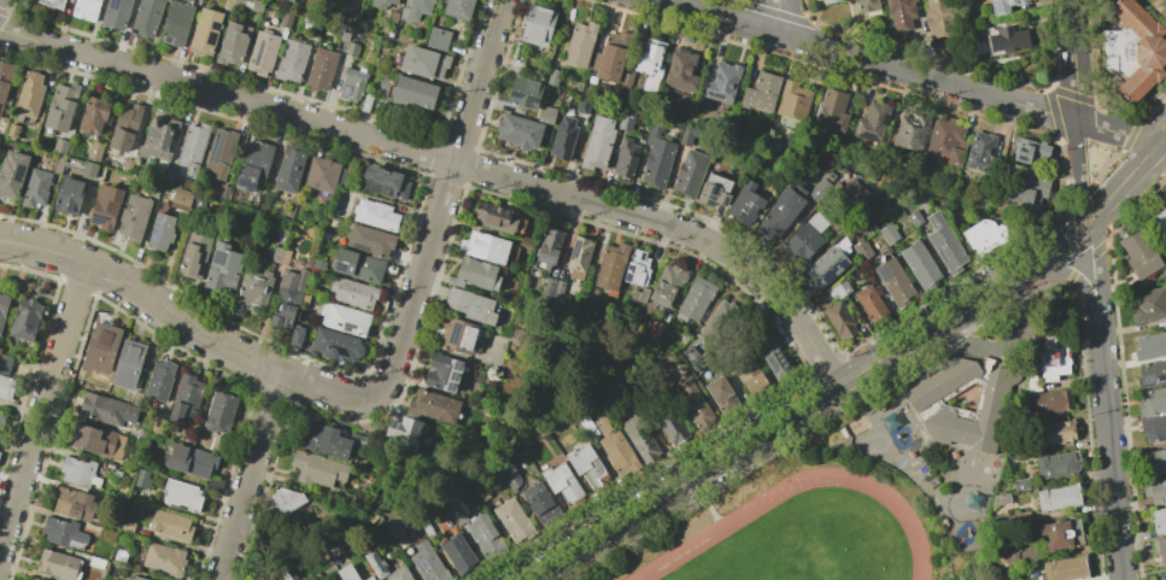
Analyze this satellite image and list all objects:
building: (69, 0)
building: (830, 0)
building: (287, 1)
building: (381, 2)
building: (51, 4)
building: (248, 4)
building: (866, 5)
building: (1004, 5)
rooftop solar panel: (995, 6)
building: (457, 8)
building: (86, 10)
building: (415, 10)
building: (901, 10)
building: (115, 13)
road: (774, 14)
building: (939, 16)
building: (145, 17)
building: (285, 18)
building: (176, 24)
building: (537, 25)
building: (204, 31)
building: (340, 31)
building: (438, 37)
building: (1007, 37)
building: (233, 43)
building: (579, 43)
building: (350, 48)
road: (832, 48)
building: (1137, 49)
building: (262, 53)
park: (1129, 54)
building: (609, 57)
building: (291, 59)
road: (1074, 60)
building: (422, 61)
building: (514, 61)
building: (644, 68)
building: (320, 69)
building: (680, 70)
building: (552, 76)
building: (5, 80)
building: (721, 82)
building: (351, 84)
building: (412, 92)
building: (760, 92)
building: (523, 93)
building: (29, 94)
building: (792, 100)
building: (365, 102)
building: (581, 105)
building: (59, 107)
building: (831, 110)
road: (1037, 110)
building: (93, 115)
building: (545, 115)
building: (626, 119)
rooftop solar panel: (885, 119)
building: (872, 122)
building: (124, 127)
building: (11, 130)
building: (518, 131)
building: (909, 131)
road: (1117, 133)
building: (687, 135)
building: (562, 137)
building: (157, 139)
rooftop solar panel: (869, 139)
road: (1162, 140)
building: (949, 141)
building: (597, 143)
building: (59, 146)
building: (191, 147)
building: (1029, 150)
building: (218, 153)
building: (980, 153)
building: (625, 157)
road: (449, 160)
building: (93, 162)
building: (657, 163)
building: (58, 164)
building: (252, 165)
building: (288, 169)
road: (1078, 171)
rooftop solar panel: (20, 174)
building: (321, 174)
building: (689, 174)
building: (11, 175)
building: (168, 176)
road: (1125, 181)
building: (385, 182)
building: (1024, 186)
building: (35, 188)
rooftop solar panel: (250, 188)
building: (818, 189)
rooftop solar panel: (710, 191)
building: (713, 191)
building: (854, 193)
building: (69, 195)
building: (181, 198)
rooftop solar panel: (711, 199)
building: (198, 203)
rooftop solar panel: (726, 203)
building: (745, 204)
rooftop solar panel: (713, 205)
building: (104, 206)
building: (779, 212)
building: (375, 215)
building: (133, 217)
building: (493, 217)
building: (913, 218)
building: (1161, 219)
building: (816, 222)
rooftop solar panel: (159, 230)
building: (160, 232)
building: (887, 234)
building: (983, 235)
building: (369, 240)
building: (802, 241)
building: (944, 244)
road: (1060, 245)
building: (484, 246)
building: (549, 246)
road: (427, 248)
building: (861, 250)
rooftop solar panel: (942, 252)
building: (194, 254)
building: (1138, 254)
building: (578, 257)
rooftop solar panel: (843, 260)
road: (1098, 263)
building: (357, 265)
building: (610, 265)
building: (919, 265)
building: (222, 266)
building: (824, 266)
building: (632, 273)
rooftop solar panel: (828, 273)
building: (474, 275)
road: (1068, 277)
building: (893, 281)
building: (666, 285)
building: (253, 287)
building: (838, 289)
building: (352, 292)
building: (551, 292)
road: (143, 295)
building: (287, 297)
building: (693, 299)
building: (871, 304)
building: (2, 305)
building: (470, 305)
building: (1148, 305)
building: (344, 318)
building: (24, 320)
building: (839, 320)
rooftop solar panel: (338, 324)
building: (719, 324)
rooftop solar panel: (347, 328)
building: (455, 335)
building: (295, 338)
building: (335, 345)
building: (1150, 346)
building: (100, 348)
building: (1053, 358)
building: (775, 362)
building: (4, 364)
building: (128, 364)
rooftop solar panel: (458, 369)
building: (443, 373)
building: (1150, 374)
rooftop solar panel: (1148, 377)
rooftop solar panel: (1161, 377)
rooftop solar panel: (453, 379)
building: (751, 379)
building: (158, 380)
building: (6, 387)
rooftop solar panel: (451, 387)
building: (721, 394)
building: (186, 399)
building: (1053, 400)
building: (1152, 400)
road: (42, 402)
building: (693, 403)
building: (991, 405)
building: (433, 406)
building: (105, 409)
building: (219, 411)
building: (0, 417)
road: (778, 422)
building: (672, 424)
building: (1153, 428)
building: (403, 432)
building: (1055, 433)
building: (639, 439)
building: (94, 440)
building: (327, 440)
road: (1108, 444)
building: (0, 446)
building: (615, 446)
building: (189, 461)
building: (1154, 461)
building: (1056, 464)
building: (586, 467)
building: (316, 468)
rooftop solar panel: (1059, 468)
building: (78, 471)
road: (247, 475)
building: (141, 480)
building: (561, 482)
building: (1019, 485)
building: (1155, 491)
building: (181, 494)
building: (1057, 497)
road: (702, 498)
building: (1000, 499)
building: (285, 500)
building: (539, 503)
building: (74, 504)
building: (457, 512)
building: (512, 520)
building: (1159, 520)
building: (169, 525)
track: (722, 526)
park: (795, 527)
building: (424, 528)
building: (63, 533)
building: (1060, 534)
building: (484, 535)
park: (807, 543)
building: (1159, 549)
building: (457, 552)
building: (1027, 553)
building: (164, 560)
building: (427, 563)
building: (58, 564)
building: (374, 564)
building: (1064, 568)
building: (346, 573)
building: (287, 574)
building: (398, 574)
building: (1162, 575)
building: (137, 578)
building: (368, 578)
building: (30, 579)
building: (34, 579)

